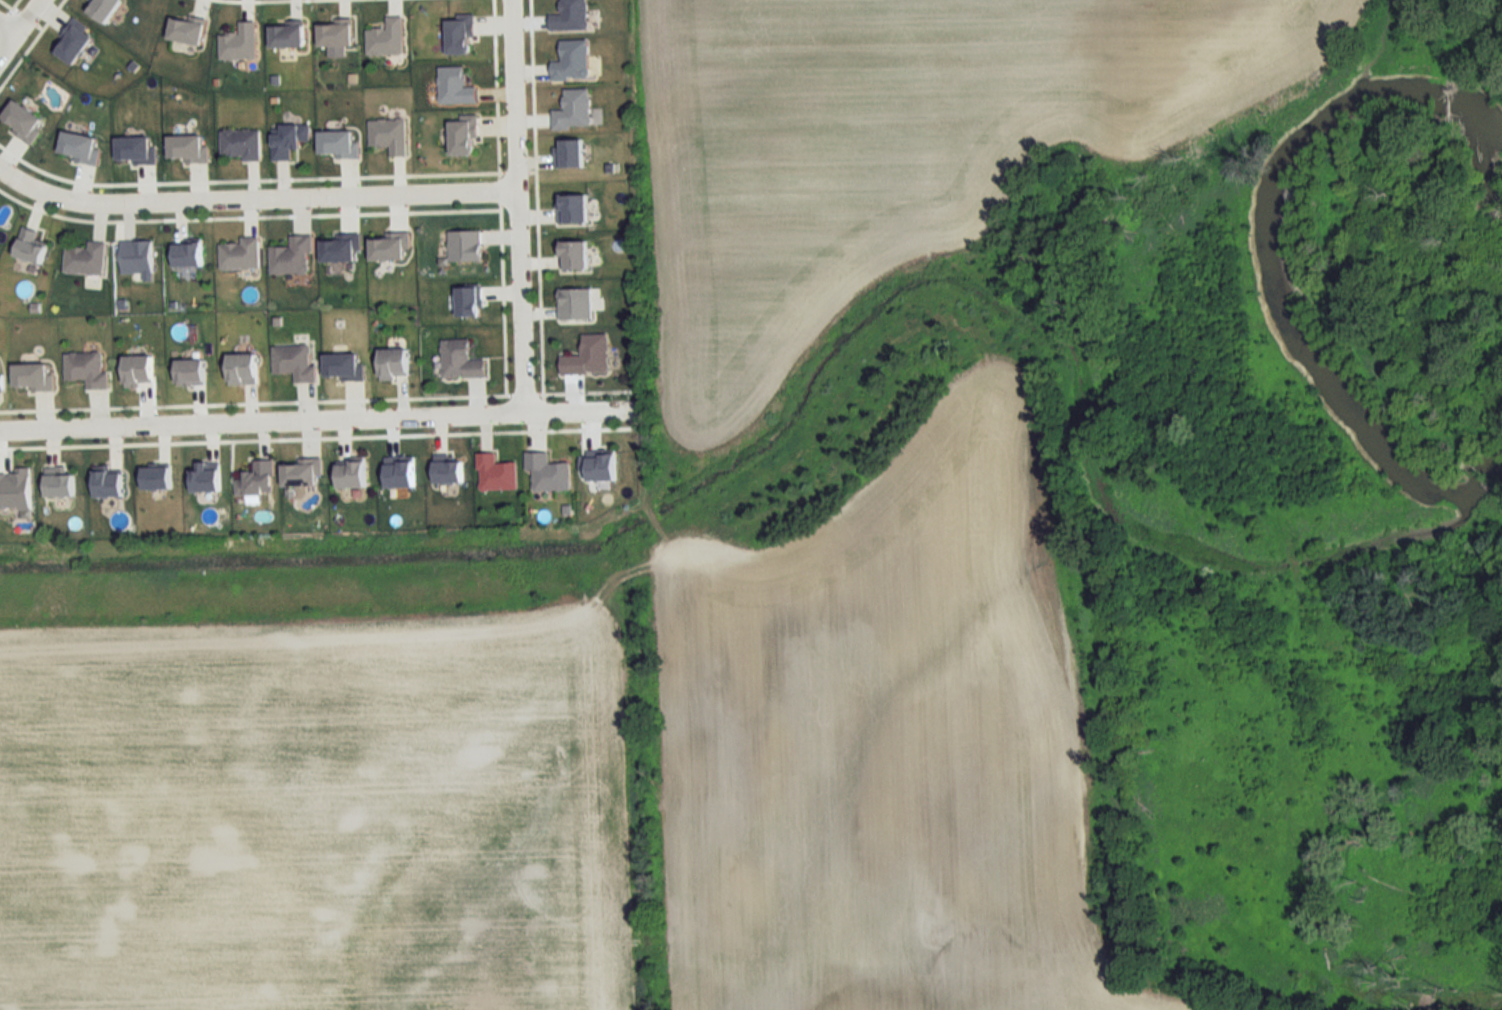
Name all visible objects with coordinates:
building: (104, 9)
building: (571, 16)
road: (16, 23)
road: (5, 28)
building: (187, 32)
building: (336, 34)
building: (288, 36)
building: (459, 37)
building: (387, 38)
building: (239, 43)
building: (572, 62)
building: (456, 87)
building: (574, 111)
building: (389, 135)
building: (463, 136)
building: (289, 141)
building: (240, 145)
crop: (890, 146)
building: (569, 154)
road: (253, 201)
road: (515, 207)
building: (572, 209)
river: (1276, 243)
building: (30, 246)
building: (465, 247)
building: (188, 255)
building: (240, 255)
building: (573, 255)
building: (291, 256)
building: (137, 258)
building: (86, 259)
building: (575, 304)
building: (588, 357)
building: (461, 361)
building: (294, 362)
building: (394, 364)
building: (242, 369)
building: (87, 370)
building: (138, 370)
building: (190, 372)
road: (319, 420)
building: (600, 468)
building: (449, 472)
building: (548, 473)
building: (496, 474)
building: (352, 475)
building: (257, 480)
crop: (884, 748)
crop: (314, 815)

